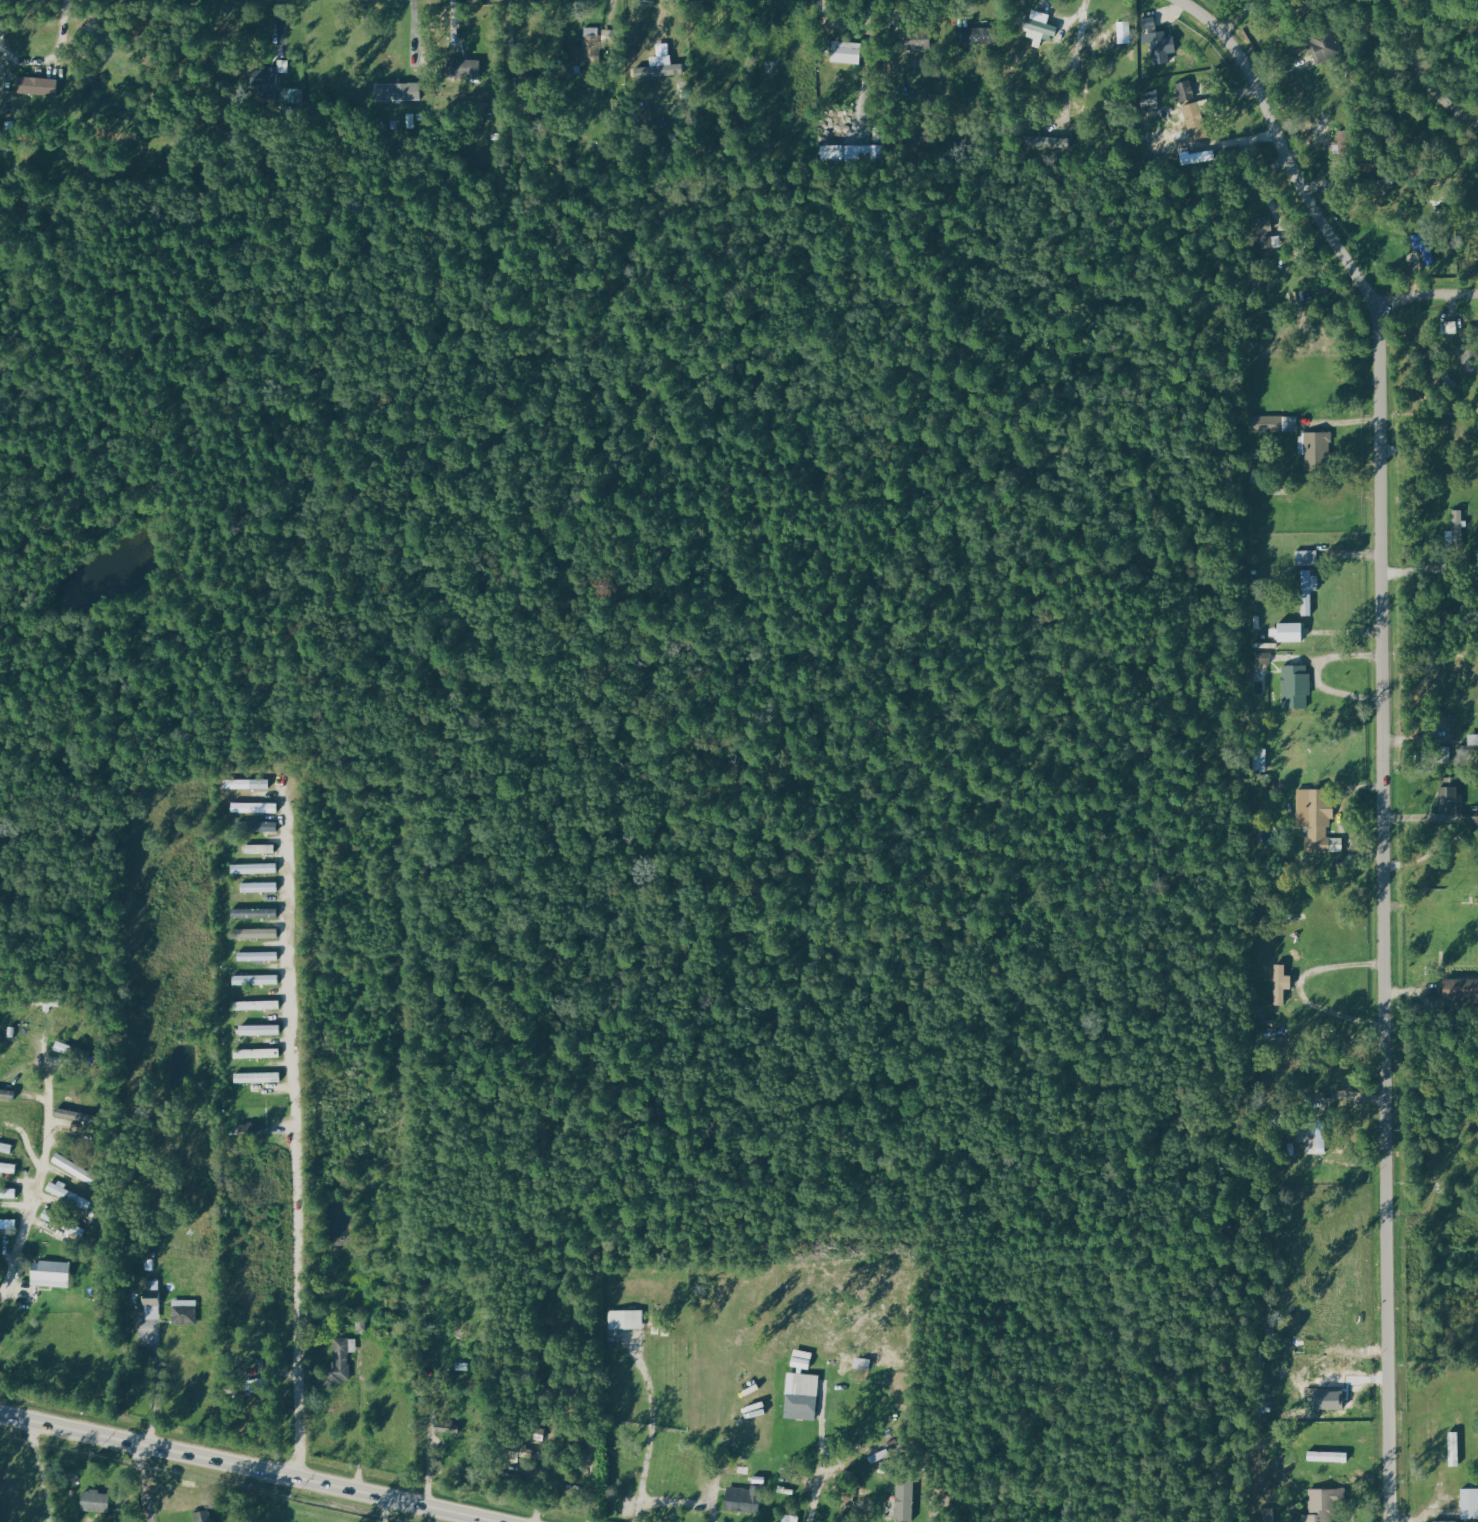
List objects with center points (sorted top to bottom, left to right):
building: (1039, 24)
building: (1123, 32)
building: (976, 35)
building: (1152, 39)
building: (1320, 47)
building: (586, 49)
building: (844, 52)
building: (659, 67)
building: (462, 68)
road: (1420, 73)
building: (268, 76)
building: (39, 86)
building: (393, 91)
building: (1189, 109)
road: (1282, 148)
building: (849, 152)
building: (1198, 157)
building: (1266, 234)
building: (1426, 250)
road: (1427, 291)
building: (1468, 356)
building: (1274, 424)
building: (1319, 445)
building: (1456, 527)
building: (1305, 558)
building: (1307, 591)
building: (1287, 633)
building: (1261, 658)
building: (1294, 687)
building: (1445, 753)
building: (247, 783)
building: (1445, 800)
building: (257, 807)
building: (1315, 821)
building: (263, 825)
building: (263, 848)
building: (257, 868)
building: (262, 886)
building: (258, 912)
road: (1386, 913)
building: (258, 932)
building: (260, 956)
building: (259, 979)
building: (1279, 984)
road: (1300, 987)
building: (1459, 989)
building: (261, 1004)
building: (265, 1029)
building: (259, 1052)
building: (261, 1076)
building: (9, 1094)
building: (258, 1129)
road: (293, 1133)
building: (7, 1147)
road: (44, 1160)
building: (10, 1166)
building: (77, 1168)
building: (10, 1193)
building: (72, 1194)
building: (9, 1223)
building: (57, 1274)
building: (156, 1299)
building: (188, 1312)
building: (625, 1320)
building: (1333, 1357)
building: (802, 1359)
building: (343, 1361)
road: (152, 1381)
building: (802, 1392)
building: (1331, 1394)
road: (652, 1426)
building: (452, 1429)
building: (1453, 1449)
building: (1327, 1456)
road: (818, 1458)
building: (593, 1460)
road: (243, 1469)
road: (40, 1470)
road: (146, 1484)
building: (742, 1498)
building: (905, 1499)
building: (99, 1501)
road: (675, 1501)
building: (1323, 1503)
building: (1468, 1503)
road: (387, 1511)
building: (205, 1516)
building: (787, 1518)

